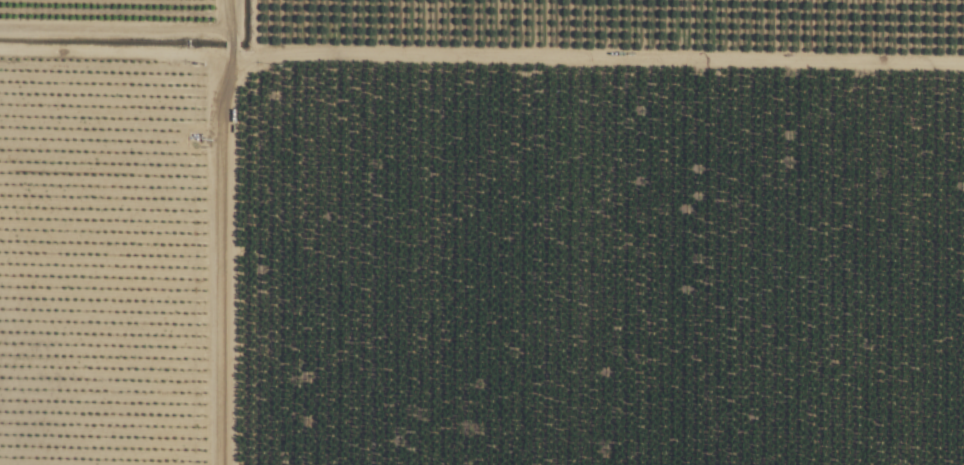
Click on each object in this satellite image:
crop: (627, 24)

